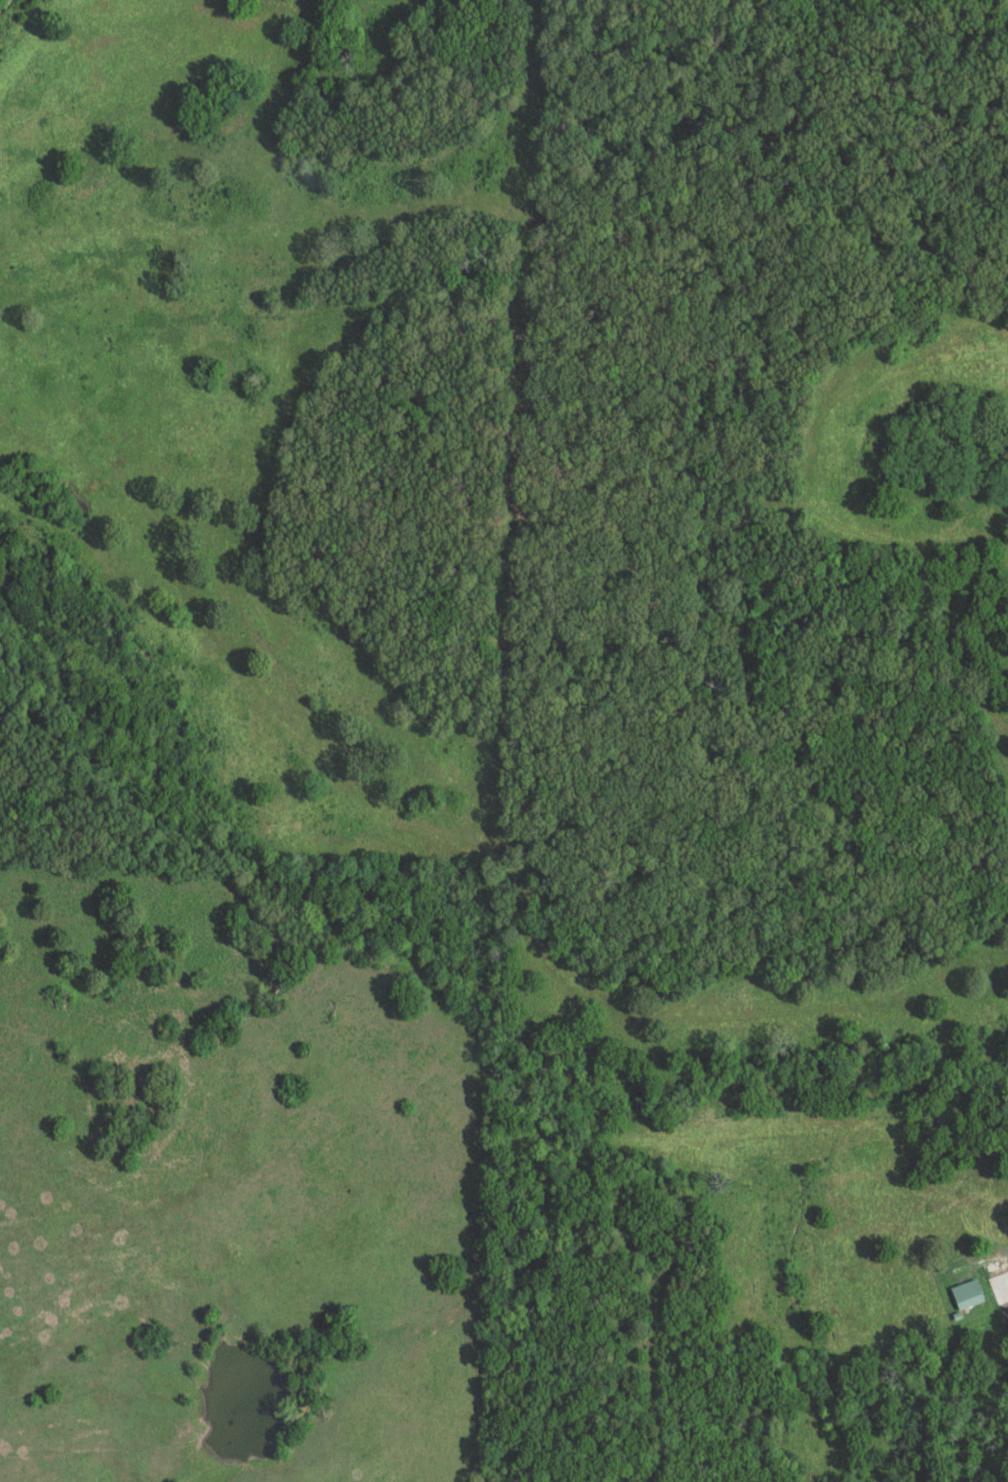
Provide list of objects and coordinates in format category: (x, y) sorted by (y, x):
building: (970, 1297)
road: (990, 1385)

